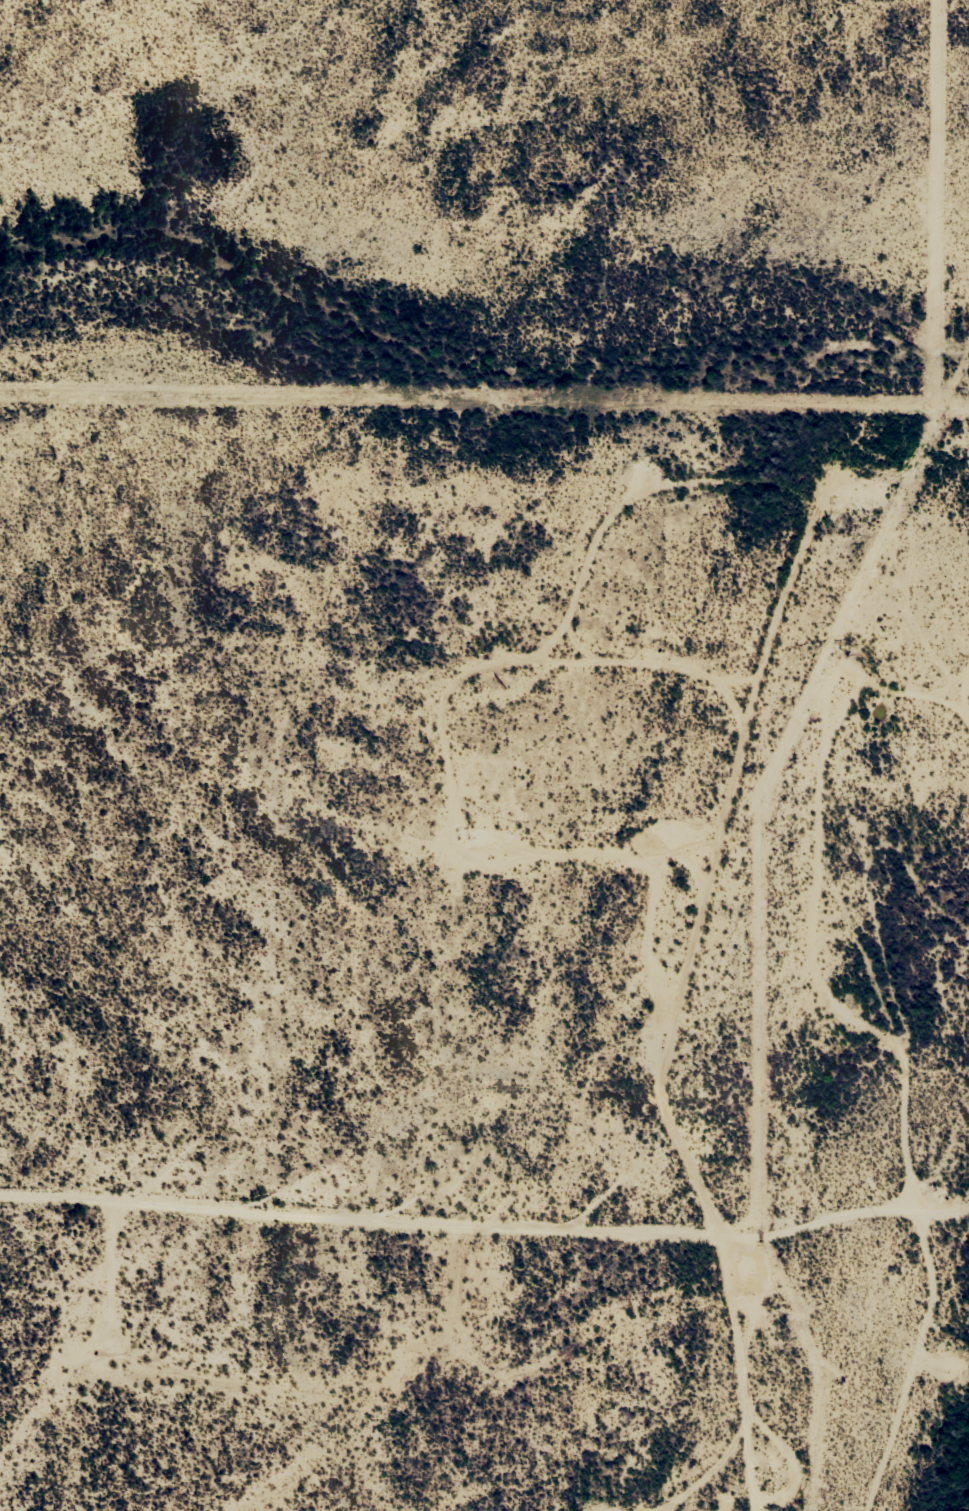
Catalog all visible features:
road: (486, 1234)

